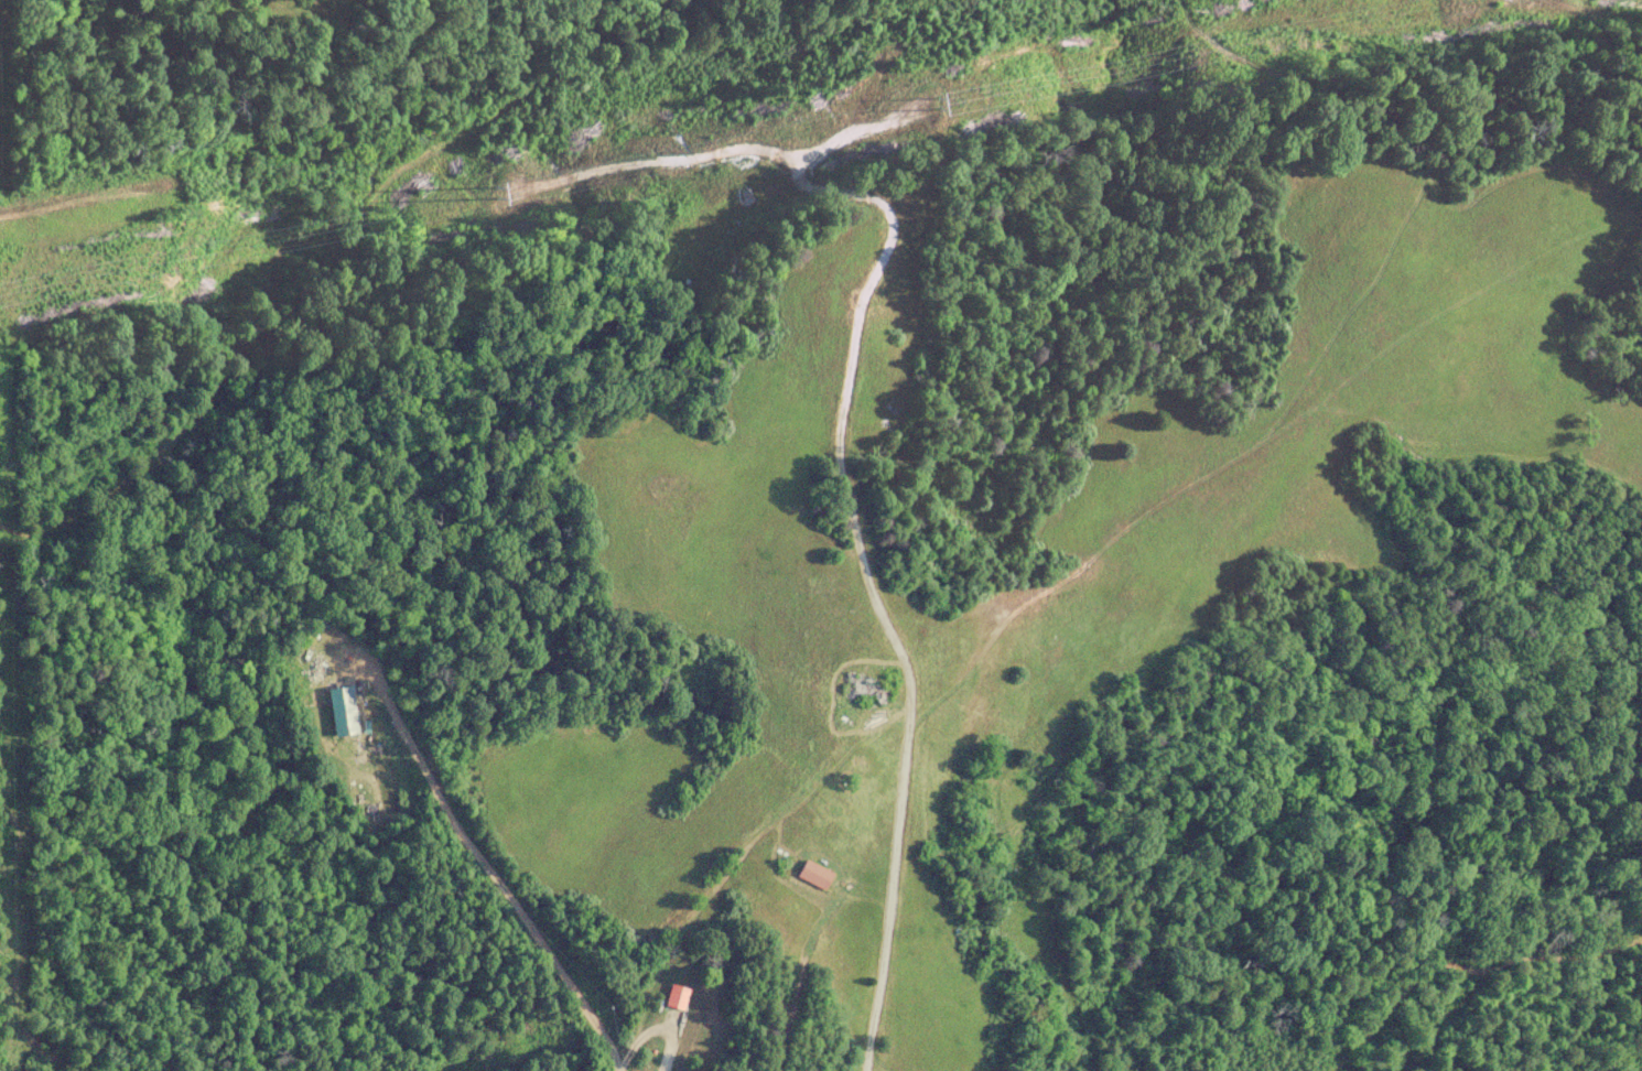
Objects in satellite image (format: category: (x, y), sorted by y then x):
building: (679, 997)
road: (631, 1051)

